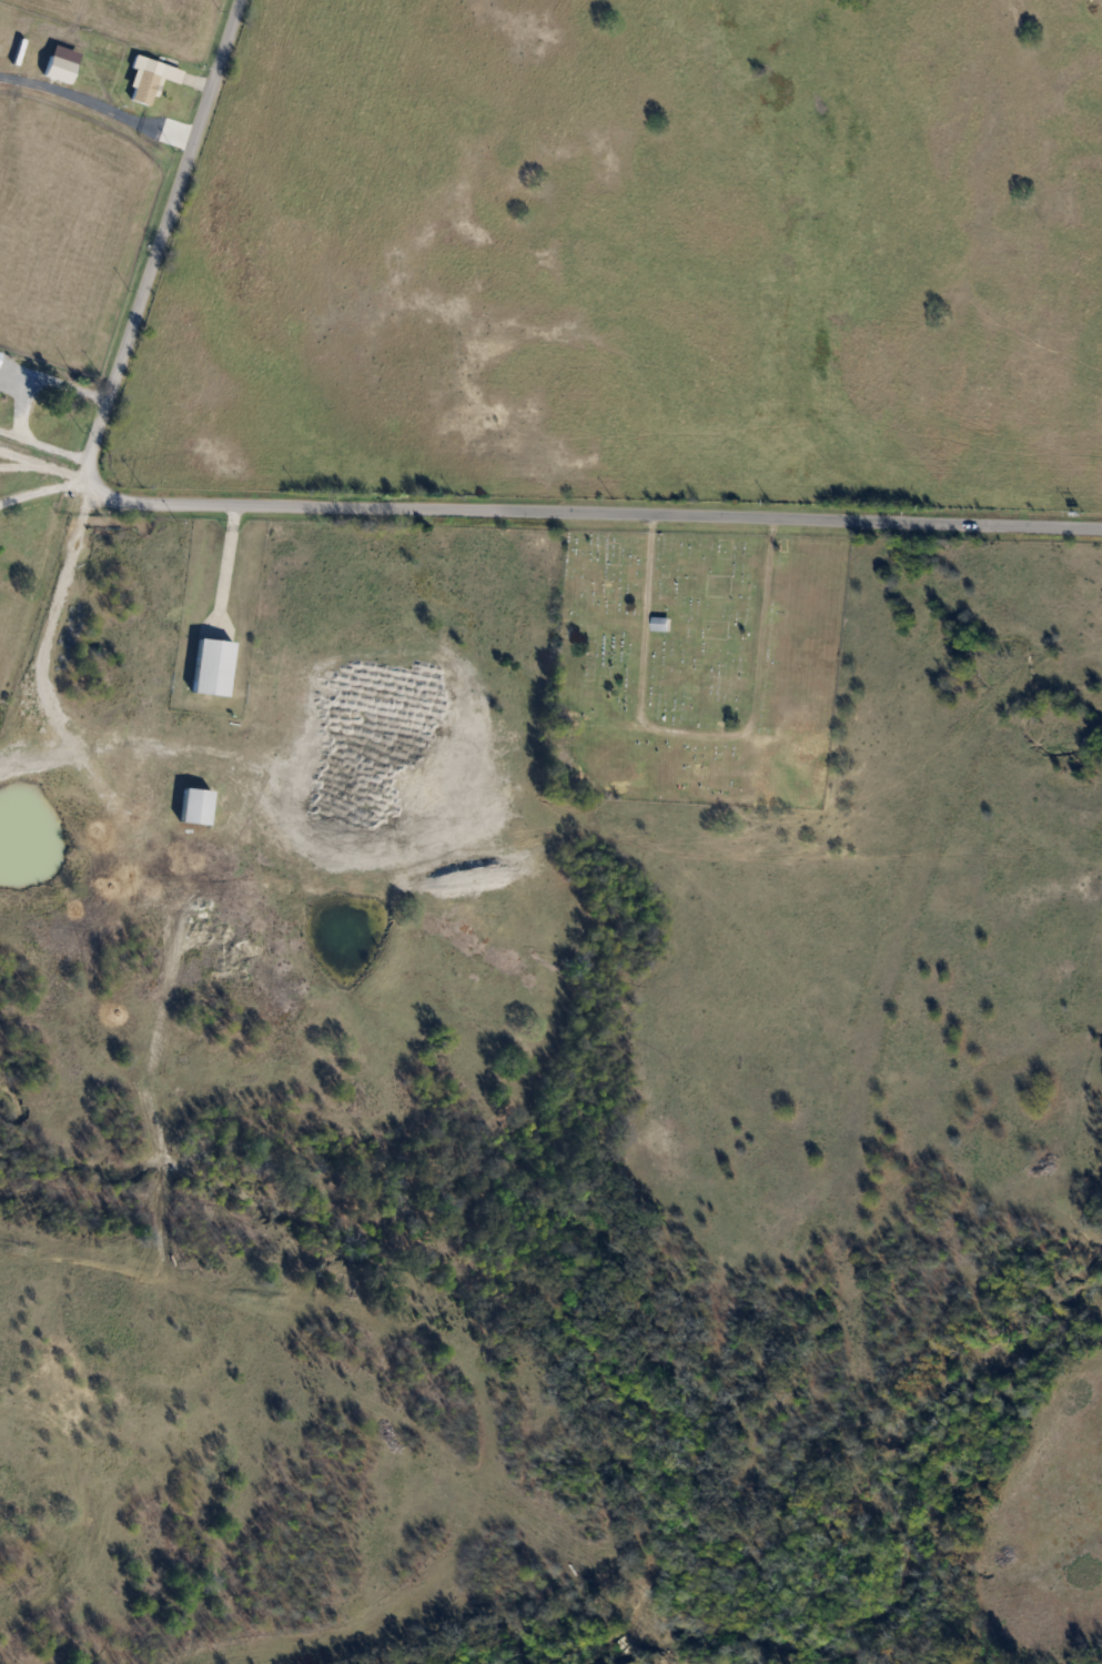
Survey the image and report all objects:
building: (59, 70)
building: (150, 79)
road: (138, 306)
road: (13, 401)
road: (46, 485)
road: (665, 515)
road: (219, 558)
building: (660, 624)
park: (696, 667)
building: (212, 668)
building: (195, 806)

